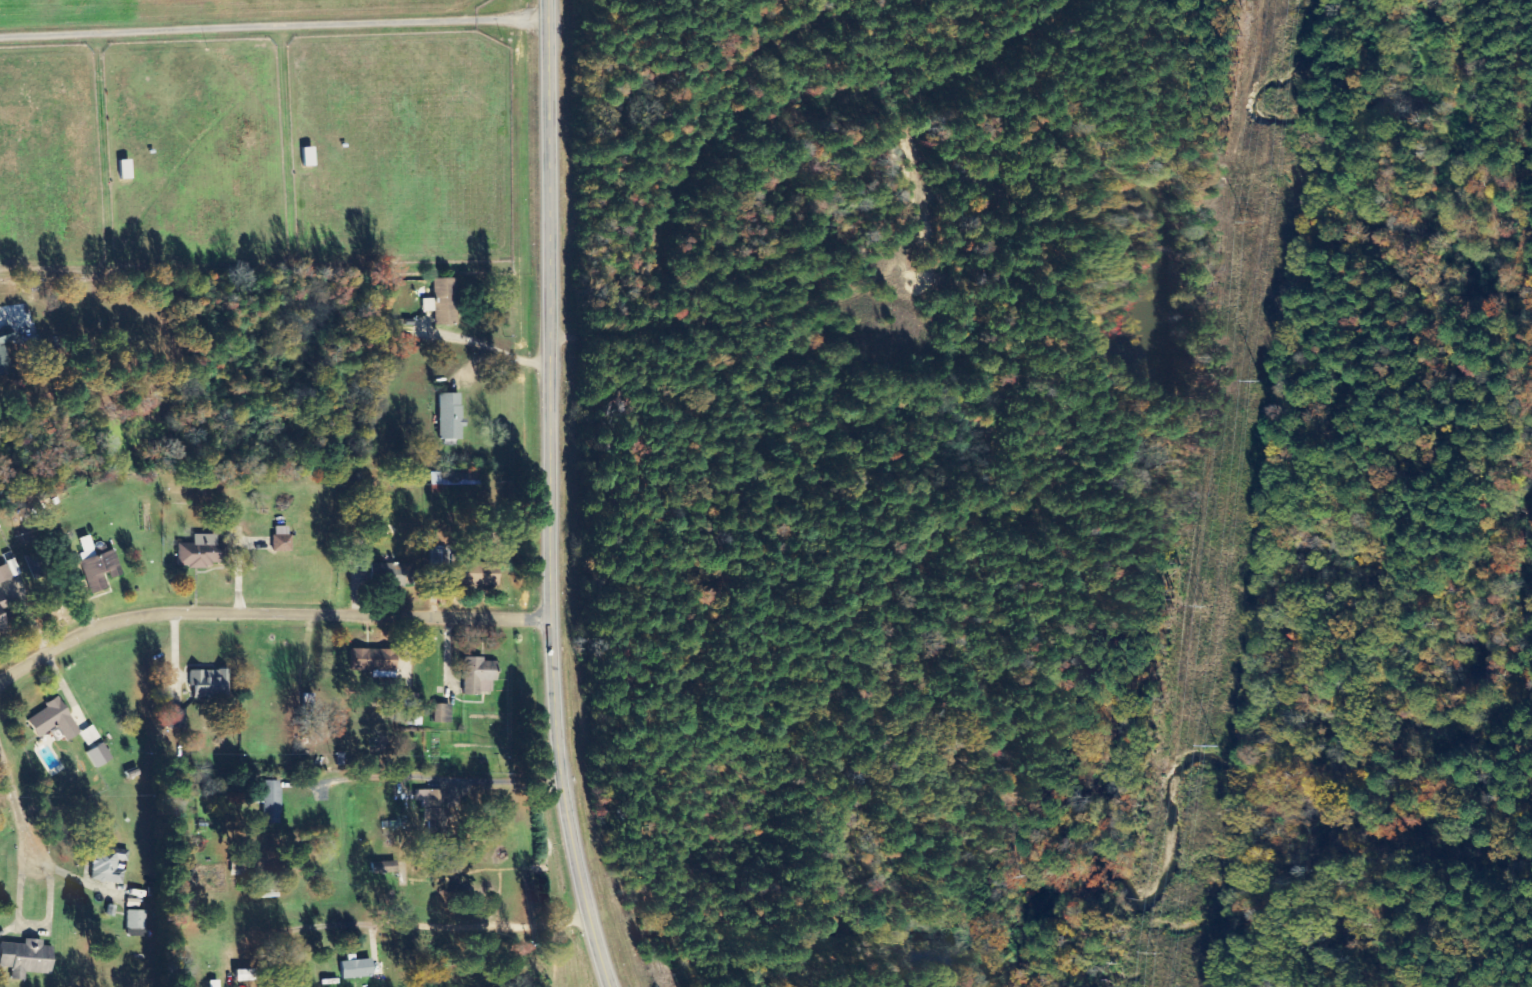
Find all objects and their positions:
building: (442, 301)
building: (425, 304)
building: (3, 336)
building: (1, 367)
building: (446, 416)
road: (551, 496)
building: (279, 539)
building: (194, 552)
building: (94, 566)
building: (6, 570)
building: (470, 573)
building: (0, 606)
road: (268, 613)
building: (1, 630)
building: (373, 662)
building: (474, 675)
building: (206, 684)
building: (439, 713)
building: (173, 719)
building: (49, 720)
building: (95, 755)
building: (425, 797)
building: (268, 801)
road: (22, 804)
building: (104, 864)
building: (236, 864)
building: (132, 923)
building: (23, 958)
building: (352, 968)

